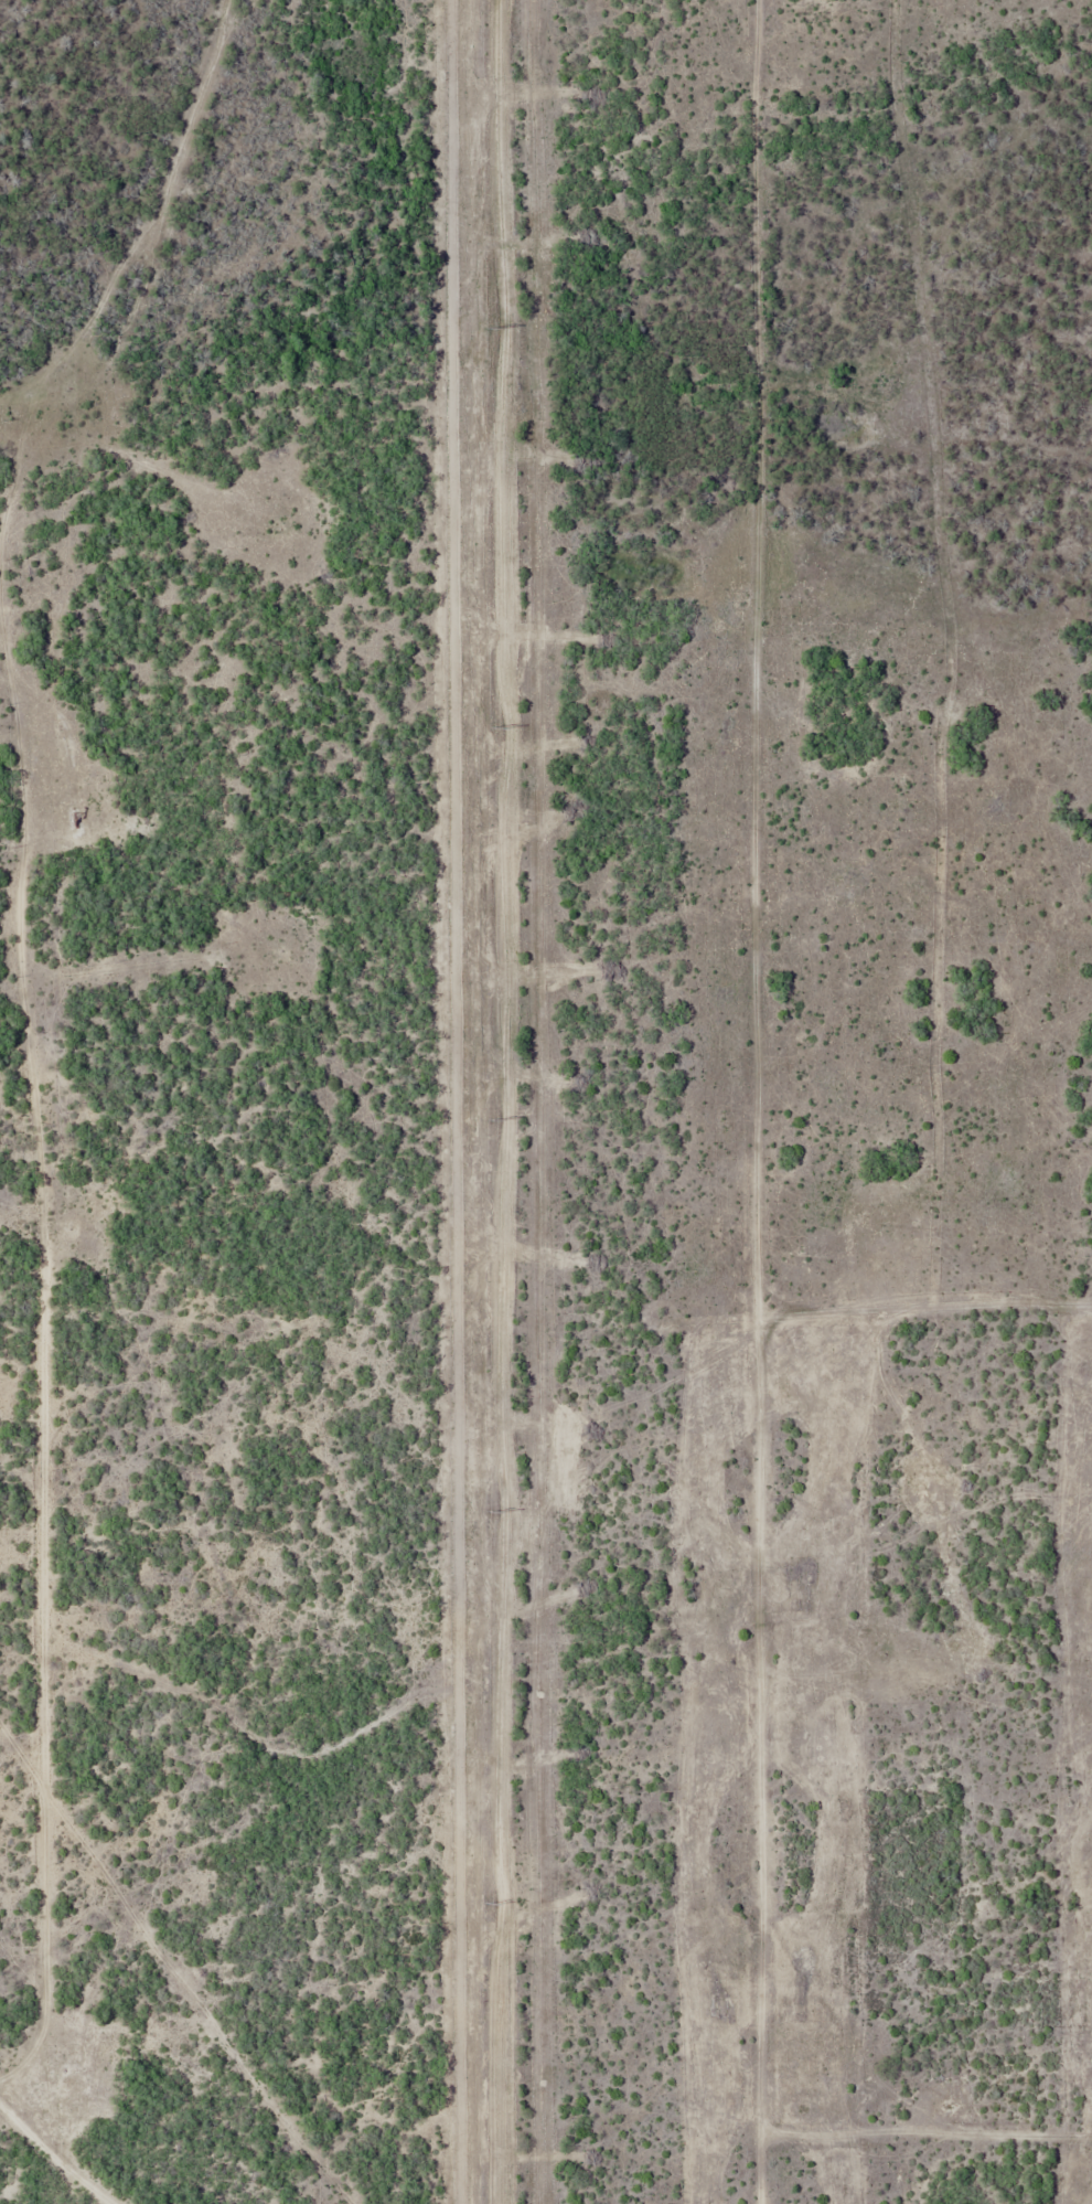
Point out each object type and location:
power tower: (490, 329)
road: (142, 355)
road: (19, 499)
power tower: (494, 728)
power tower: (492, 1122)
road: (54, 1390)
power tower: (490, 1513)
power tower: (488, 1906)

